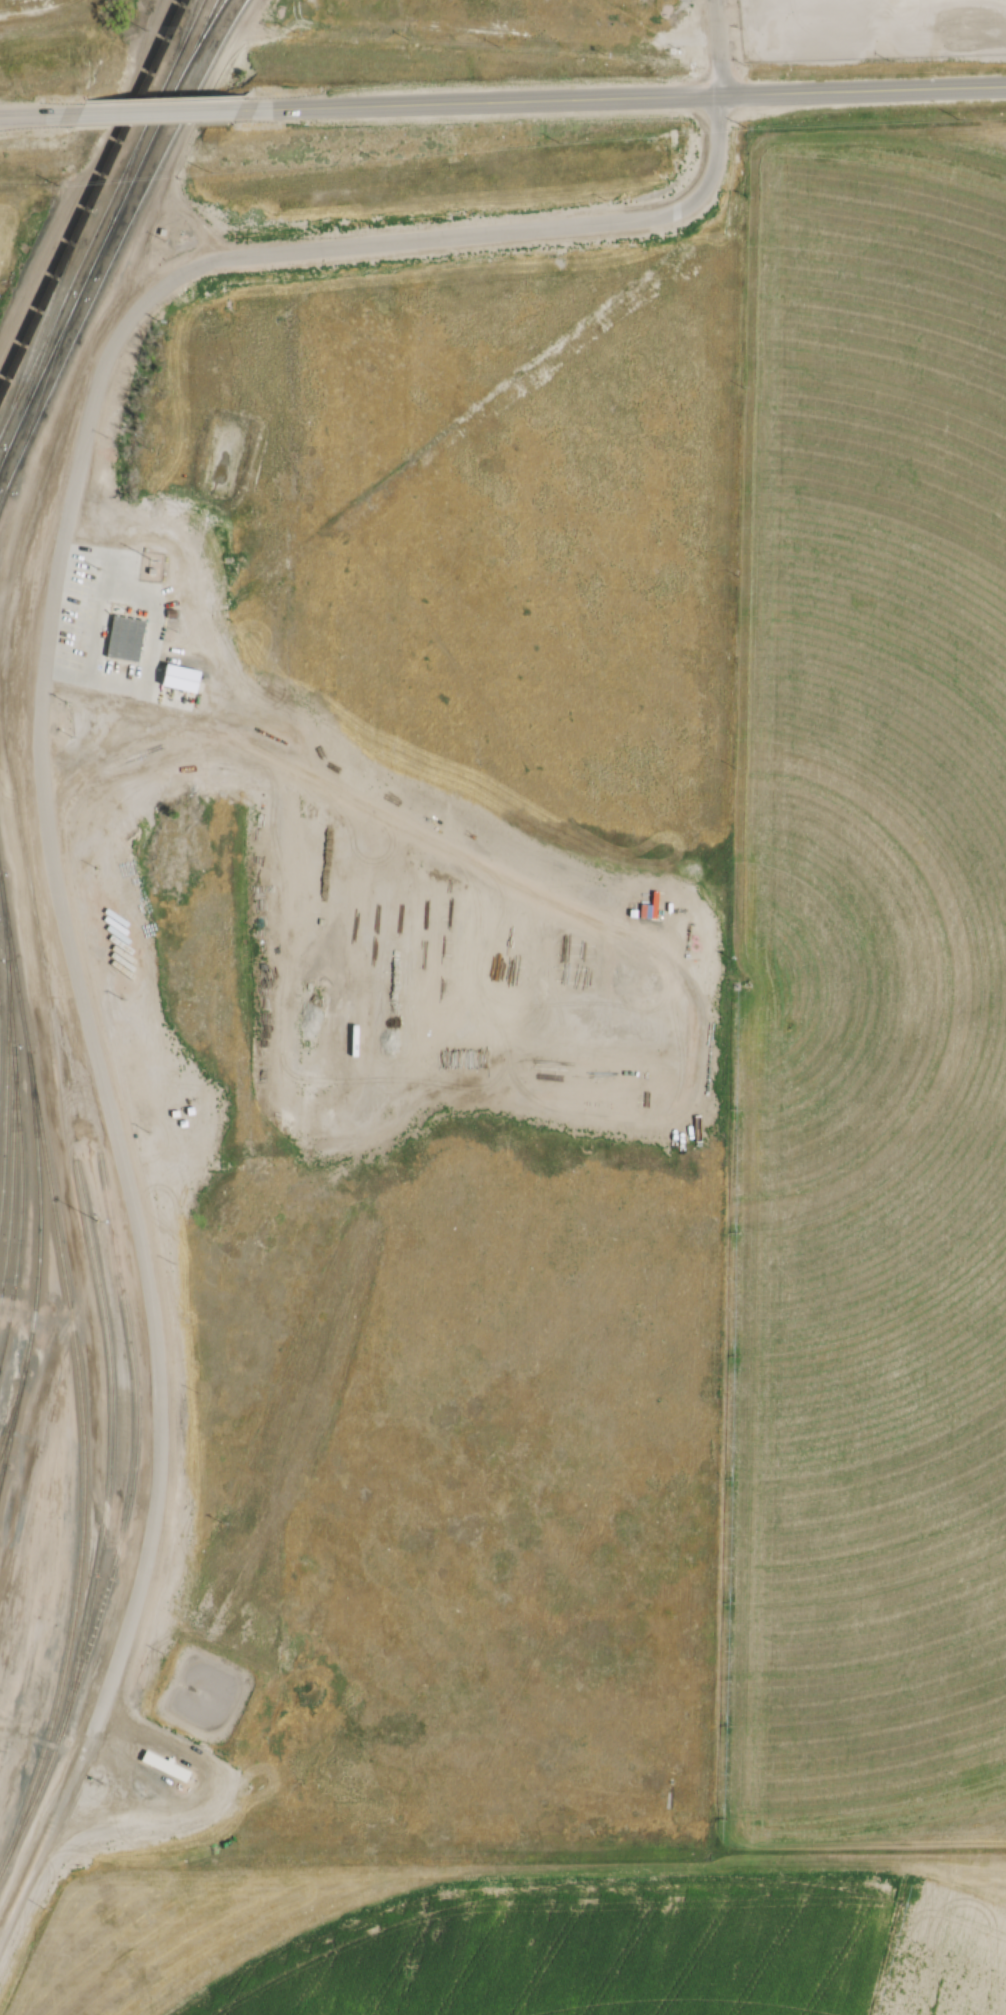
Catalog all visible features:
railway: (187, 25)
railway: (205, 25)
road: (717, 46)
road: (623, 97)
road: (157, 107)
road: (37, 111)
railway: (134, 146)
railway: (90, 193)
railway: (116, 200)
railway: (107, 232)
building: (163, 232)
railway: (117, 246)
road: (37, 274)
railway: (41, 319)
railway: (33, 362)
railway: (35, 371)
railway: (40, 390)
building: (156, 452)
building: (151, 572)
building: (167, 613)
road: (149, 616)
building: (127, 634)
road: (41, 666)
building: (178, 679)
road: (227, 740)
road: (63, 774)
road: (577, 912)
road: (357, 951)
building: (643, 965)
railway: (13, 978)
railway: (3, 1065)
building: (658, 1081)
railway: (15, 1129)
railway: (8, 1176)
railway: (36, 1215)
railway: (11, 1407)
railway: (10, 1418)
railway: (107, 1444)
railway: (130, 1444)
railway: (80, 1466)
road: (91, 1728)
road: (41, 1737)
road: (169, 1741)
building: (164, 1764)
road: (136, 1773)
railway: (34, 1791)
road: (63, 1795)
road: (115, 1816)
road: (21, 1894)

